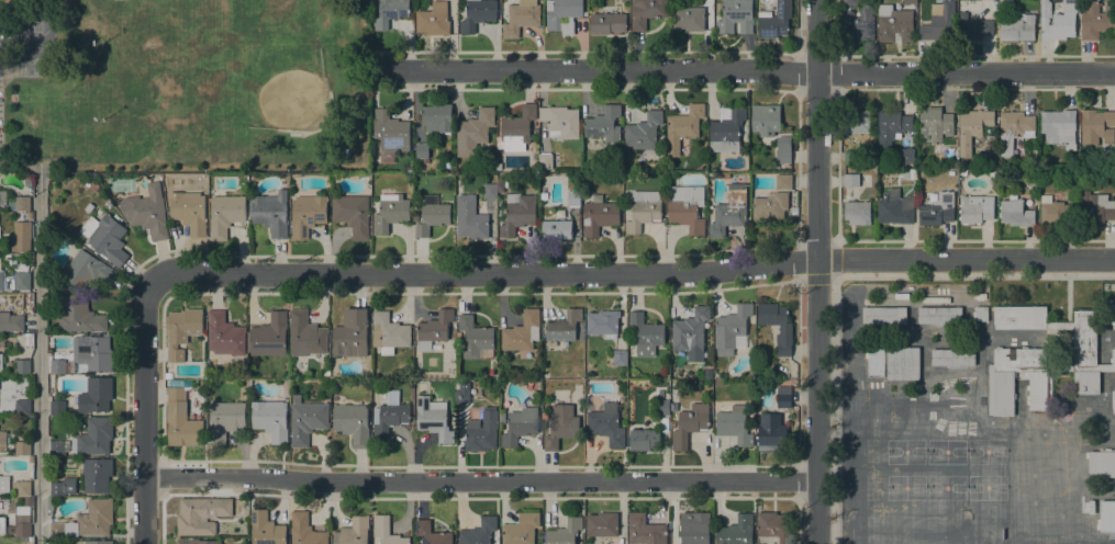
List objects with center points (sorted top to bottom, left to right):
building: (919, 0)
building: (910, 1)
building: (1005, 1)
building: (850, 2)
building: (1071, 4)
building: (390, 12)
building: (647, 12)
building: (478, 14)
building: (564, 14)
building: (735, 16)
building: (521, 18)
building: (689, 18)
building: (433, 20)
building: (1096, 20)
building: (776, 21)
building: (892, 22)
building: (607, 23)
building: (860, 23)
building: (939, 23)
building: (1056, 23)
building: (974, 27)
building: (1018, 29)
road: (750, 70)
park: (186, 83)
building: (437, 118)
building: (766, 120)
building: (560, 122)
building: (857, 122)
building: (604, 124)
building: (935, 124)
building: (1097, 126)
building: (516, 127)
building: (682, 127)
building: (892, 127)
building: (1059, 127)
building: (973, 128)
building: (726, 129)
building: (1014, 129)
building: (644, 131)
building: (391, 132)
building: (473, 132)
building: (956, 146)
building: (422, 150)
building: (783, 150)
building: (373, 156)
building: (906, 156)
building: (545, 161)
building: (499, 167)
building: (409, 169)
building: (962, 172)
building: (992, 172)
building: (912, 173)
building: (724, 177)
building: (627, 179)
building: (851, 180)
building: (784, 181)
building: (458, 184)
building: (501, 185)
building: (91, 188)
building: (490, 191)
building: (3, 197)
building: (573, 199)
building: (22, 203)
building: (88, 207)
building: (687, 207)
building: (770, 207)
building: (894, 207)
building: (1096, 207)
building: (975, 208)
building: (643, 209)
building: (937, 209)
building: (189, 211)
building: (729, 211)
building: (794, 211)
building: (1056, 211)
building: (146, 212)
building: (390, 212)
building: (270, 213)
building: (858, 213)
building: (1015, 213)
building: (352, 214)
building: (517, 214)
building: (225, 215)
building: (308, 215)
building: (432, 215)
building: (29, 216)
building: (599, 216)
building: (470, 218)
building: (555, 230)
building: (21, 236)
building: (105, 238)
building: (87, 271)
road: (818, 271)
road: (634, 275)
road: (840, 275)
building: (1, 281)
building: (22, 281)
building: (981, 314)
building: (77, 315)
building: (884, 315)
building: (939, 315)
building: (1021, 315)
building: (1113, 315)
building: (11, 322)
building: (603, 324)
building: (564, 326)
building: (1114, 326)
building: (732, 328)
building: (434, 329)
building: (785, 329)
building: (181, 331)
building: (690, 331)
building: (522, 332)
building: (389, 333)
building: (224, 335)
building: (305, 335)
building: (350, 335)
building: (646, 335)
building: (269, 336)
building: (473, 337)
building: (1086, 337)
building: (29, 339)
building: (1075, 347)
building: (92, 352)
road: (38, 354)
building: (952, 356)
building: (1113, 356)
building: (620, 358)
building: (876, 362)
building: (1, 363)
building: (902, 363)
building: (23, 366)
building: (57, 366)
building: (168, 375)
building: (1001, 381)
building: (1089, 382)
building: (659, 392)
building: (536, 394)
building: (96, 395)
building: (462, 396)
building: (783, 397)
building: (1113, 399)
building: (22, 406)
building: (57, 407)
building: (662, 407)
road: (145, 410)
building: (1114, 410)
building: (389, 415)
building: (544, 416)
building: (433, 418)
building: (225, 419)
building: (501, 419)
building: (181, 420)
building: (270, 420)
building: (306, 420)
building: (353, 423)
building: (671, 423)
building: (520, 424)
building: (606, 424)
building: (689, 424)
building: (734, 424)
building: (560, 426)
building: (481, 432)
building: (770, 433)
building: (93, 437)
building: (644, 439)
building: (2, 441)
building: (22, 447)
building: (57, 447)
building: (1102, 462)
building: (96, 474)
building: (1102, 475)
building: (4, 485)
road: (482, 486)
building: (62, 487)
building: (22, 488)
building: (27, 501)
building: (49, 505)
building: (1091, 507)
building: (201, 514)
building: (1107, 515)
building: (87, 521)
building: (1, 524)
building: (602, 524)
building: (21, 525)
building: (776, 525)
building: (694, 528)
building: (266, 529)
building: (521, 529)
building: (305, 530)
building: (645, 530)
building: (386, 531)
building: (479, 531)
building: (736, 531)
building: (353, 532)
building: (564, 532)
building: (431, 533)
building: (194, 541)
building: (93, 542)

